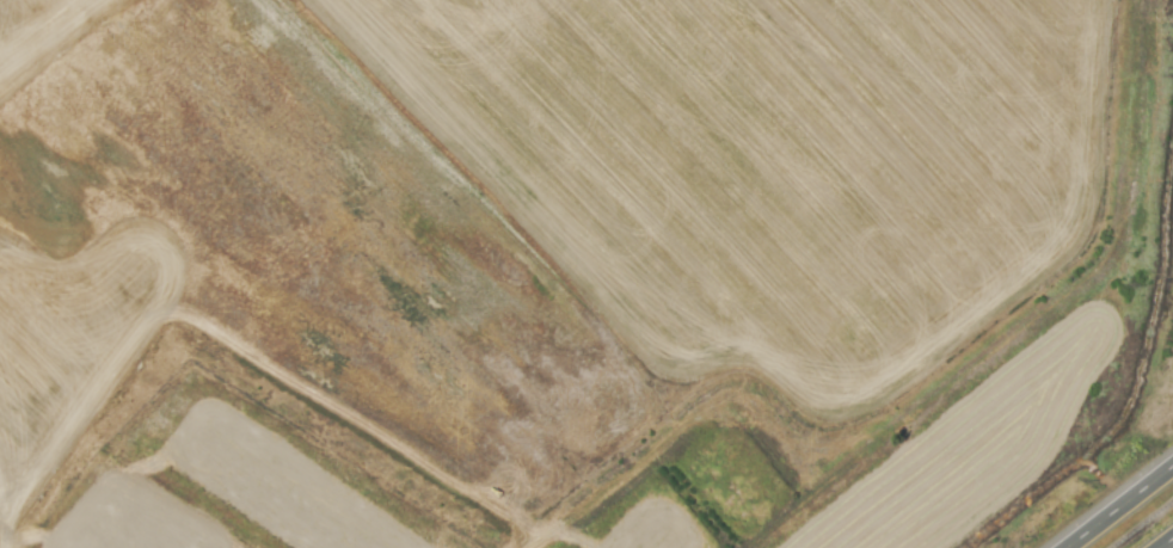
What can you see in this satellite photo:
road: (1120, 507)
road: (1167, 543)

